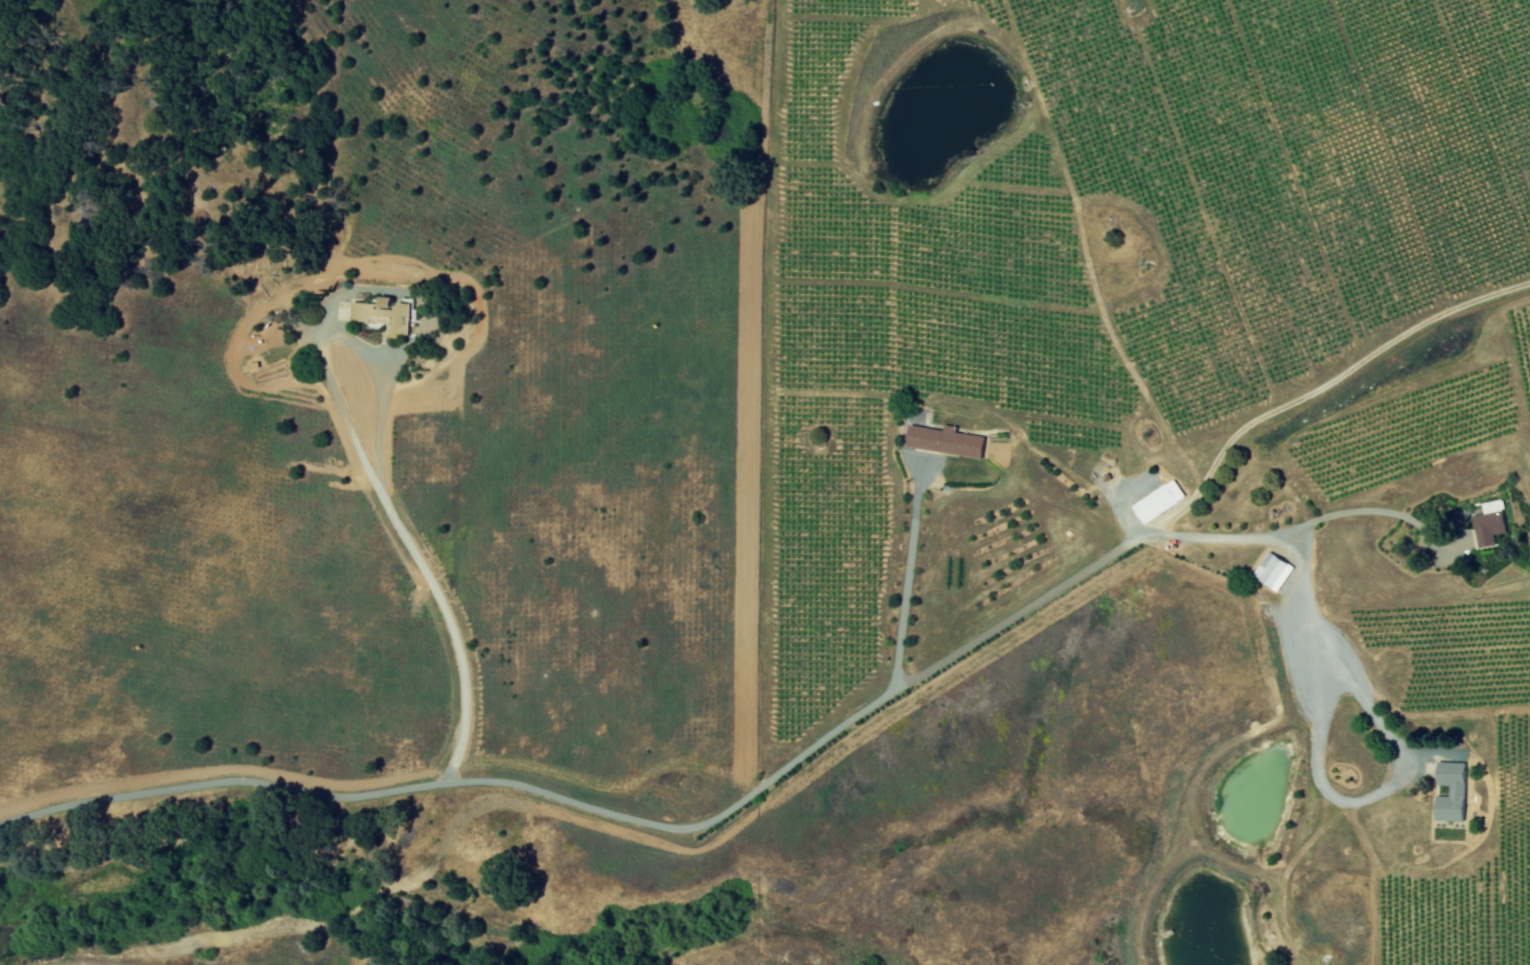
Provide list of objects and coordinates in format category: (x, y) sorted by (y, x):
building: (386, 314)
building: (948, 441)
road: (377, 466)
building: (1159, 502)
road: (1358, 511)
building: (1490, 523)
building: (1274, 571)
road: (906, 575)
road: (774, 774)
building: (1452, 792)

